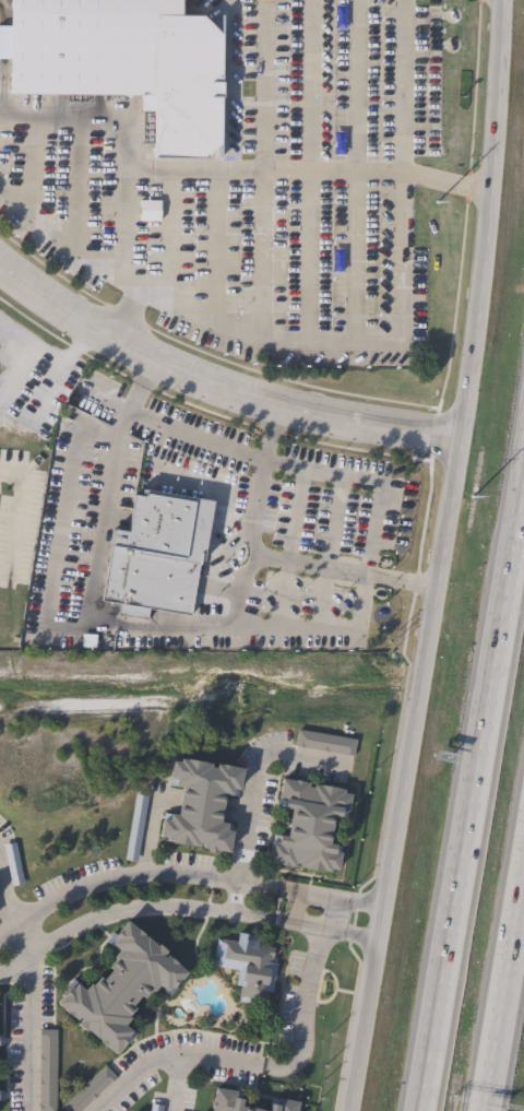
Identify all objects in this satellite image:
building: (129, 62)
road: (398, 85)
road: (120, 156)
road: (27, 165)
road: (308, 168)
road: (353, 168)
road: (277, 172)
road: (75, 184)
road: (476, 190)
power tower: (436, 220)
road: (123, 226)
road: (166, 237)
road: (71, 244)
road: (213, 247)
road: (397, 321)
road: (123, 322)
road: (261, 322)
road: (144, 369)
road: (216, 383)
road: (271, 416)
road: (193, 437)
power tower: (472, 492)
road: (17, 511)
road: (253, 554)
building: (164, 556)
road: (440, 557)
road: (405, 580)
road: (91, 606)
building: (326, 744)
road: (251, 789)
road: (473, 802)
building: (205, 803)
building: (313, 825)
building: (10, 865)
road: (133, 875)
road: (331, 898)
road: (180, 906)
building: (249, 966)
building: (126, 986)
road: (302, 993)
road: (27, 1000)
road: (505, 1002)
building: (2, 1041)
road: (167, 1057)
building: (49, 1069)
road: (170, 1084)
building: (86, 1090)
building: (2, 1096)
building: (231, 1100)

